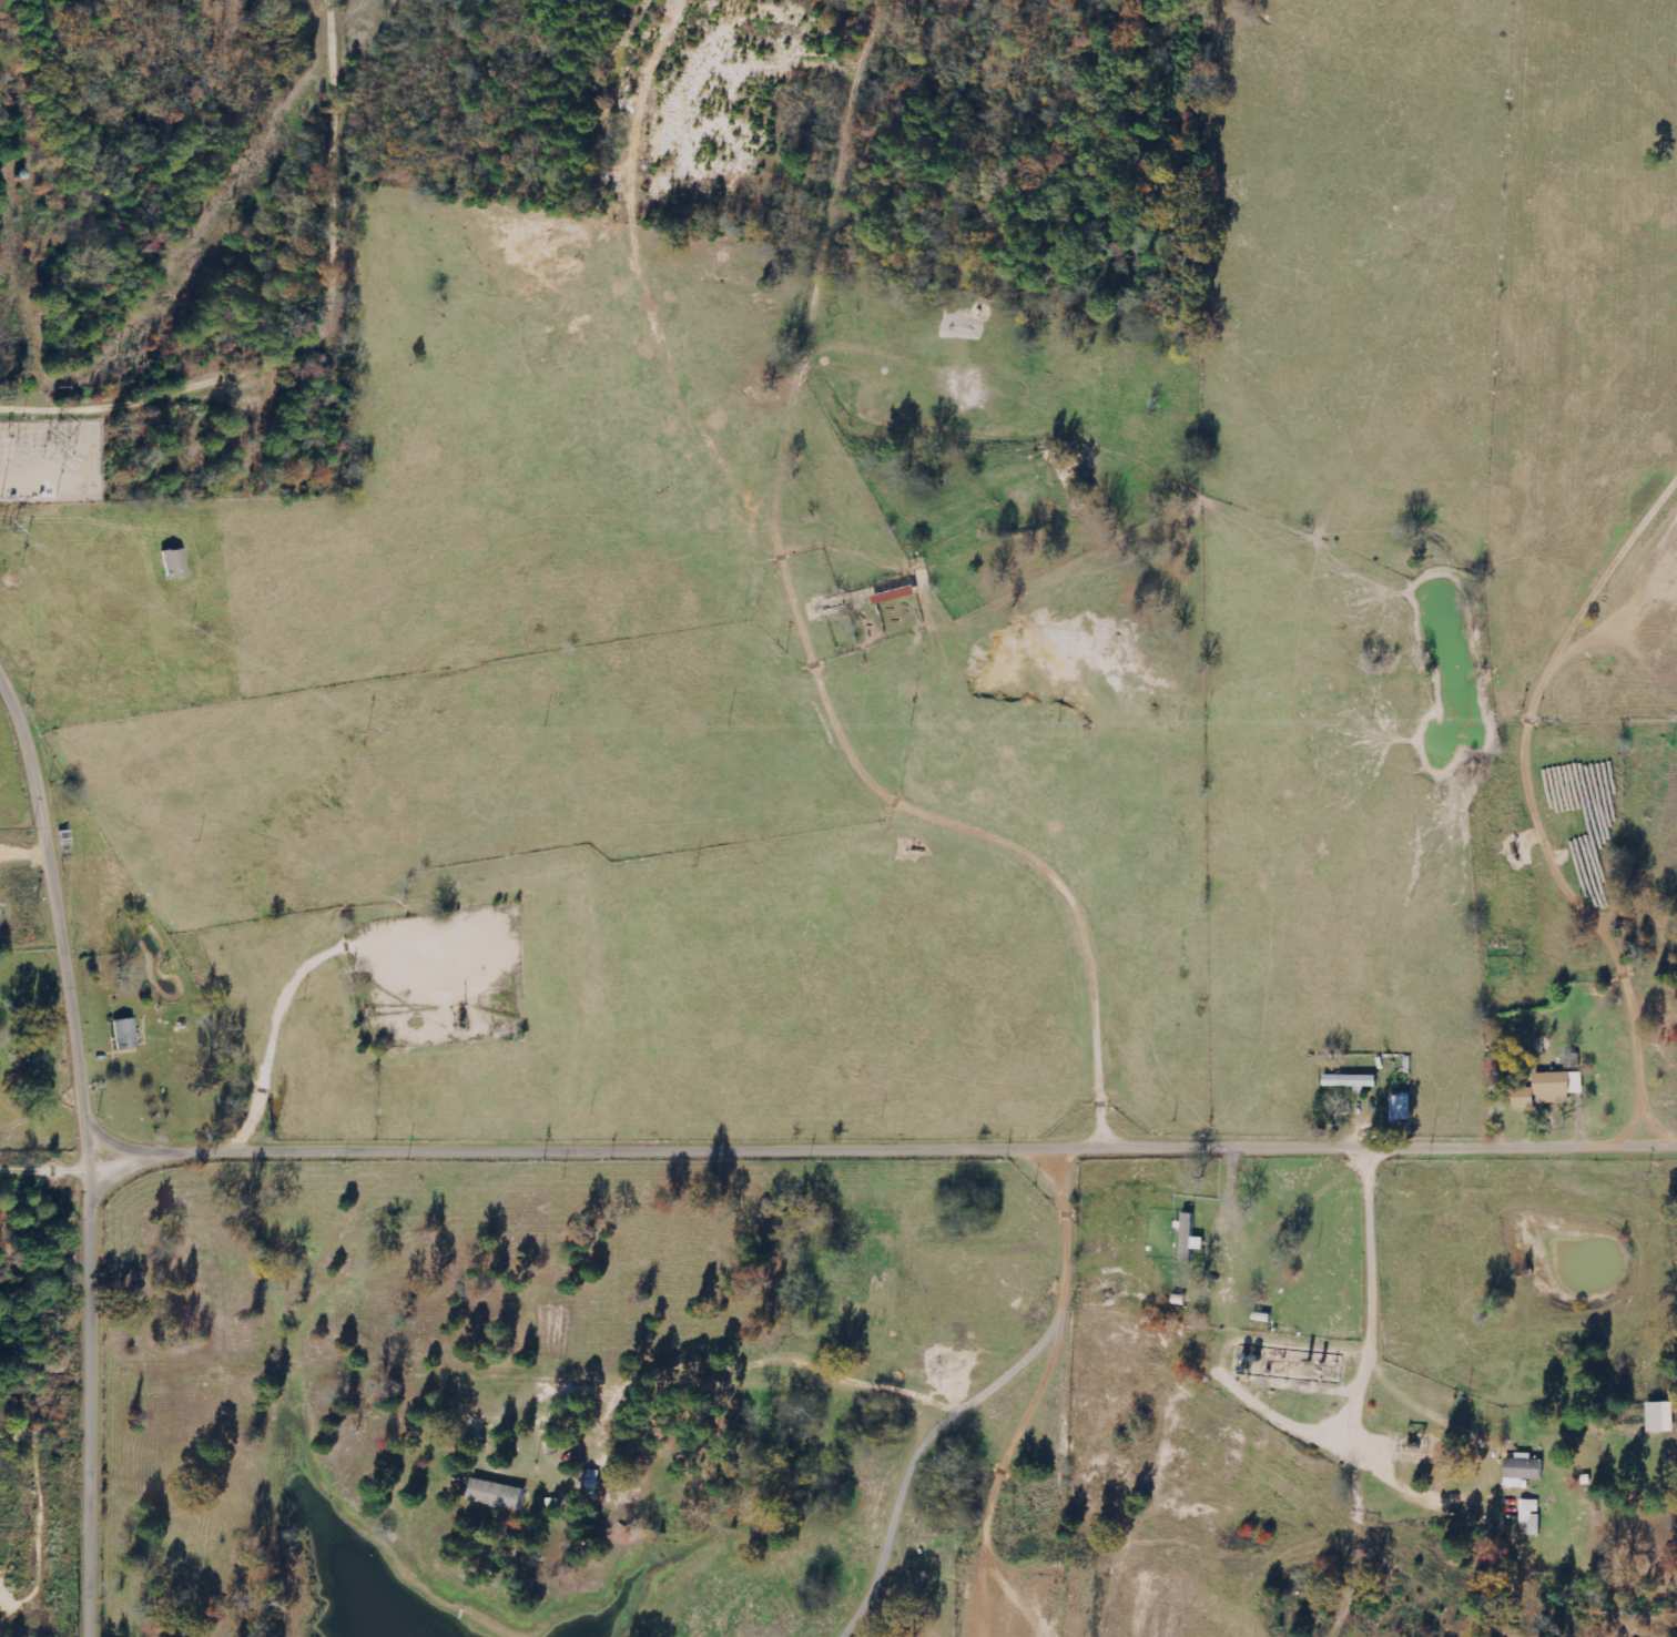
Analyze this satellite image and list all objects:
power tower: (241, 203)
road: (17, 253)
road: (31, 255)
power tower: (69, 447)
power substation: (50, 461)
power tower: (54, 467)
power tower: (12, 528)
road: (61, 896)
building: (124, 1034)
building: (1559, 1086)
building: (1525, 1098)
building: (1402, 1108)
road: (887, 1152)
road: (48, 1153)
building: (1190, 1238)
road: (1372, 1385)
road: (101, 1386)
building: (1661, 1417)
building: (1524, 1471)
building: (498, 1494)
building: (1532, 1518)

